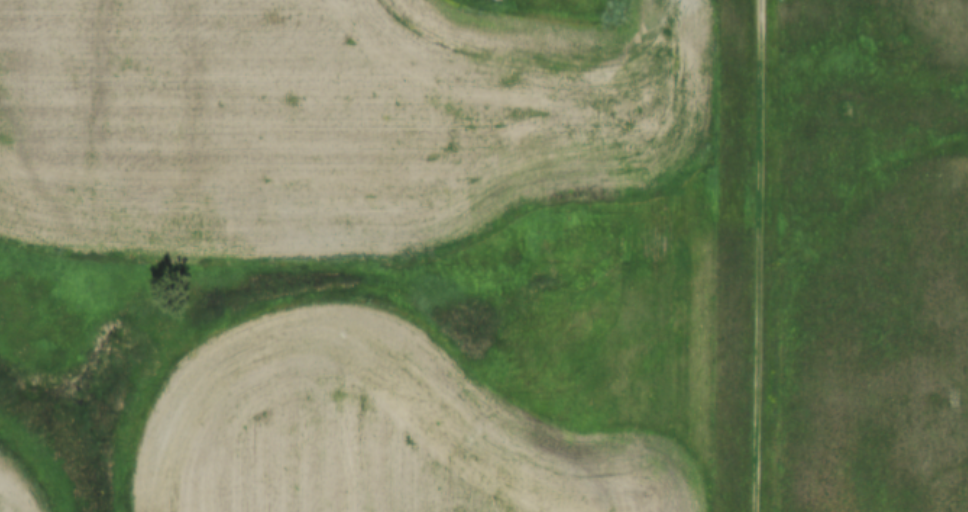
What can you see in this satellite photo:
road: (759, 255)

